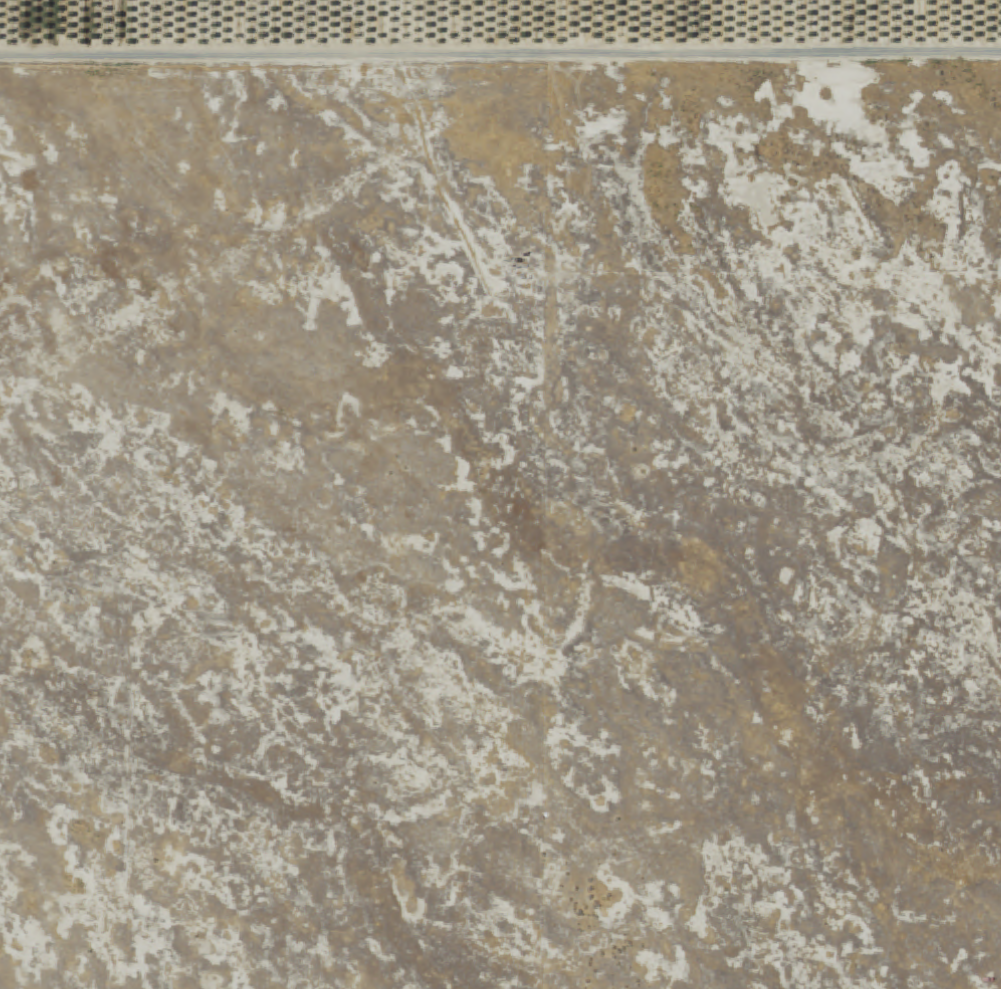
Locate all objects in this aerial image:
road: (500, 56)

